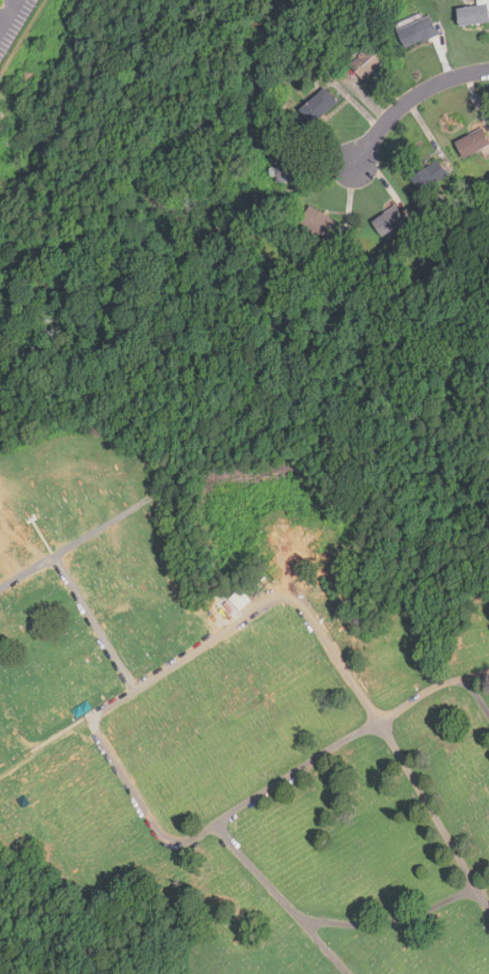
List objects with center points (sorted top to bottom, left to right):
road: (7, 12)
building: (474, 13)
building: (417, 31)
building: (368, 62)
road: (411, 98)
building: (318, 106)
building: (473, 142)
building: (287, 166)
building: (430, 176)
building: (257, 202)
building: (389, 220)
building: (321, 221)
park: (42, 376)
building: (246, 594)
road: (309, 610)
road: (104, 634)
road: (478, 691)
park: (234, 718)
road: (266, 791)
road: (288, 896)
road: (401, 919)
park: (8, 958)

